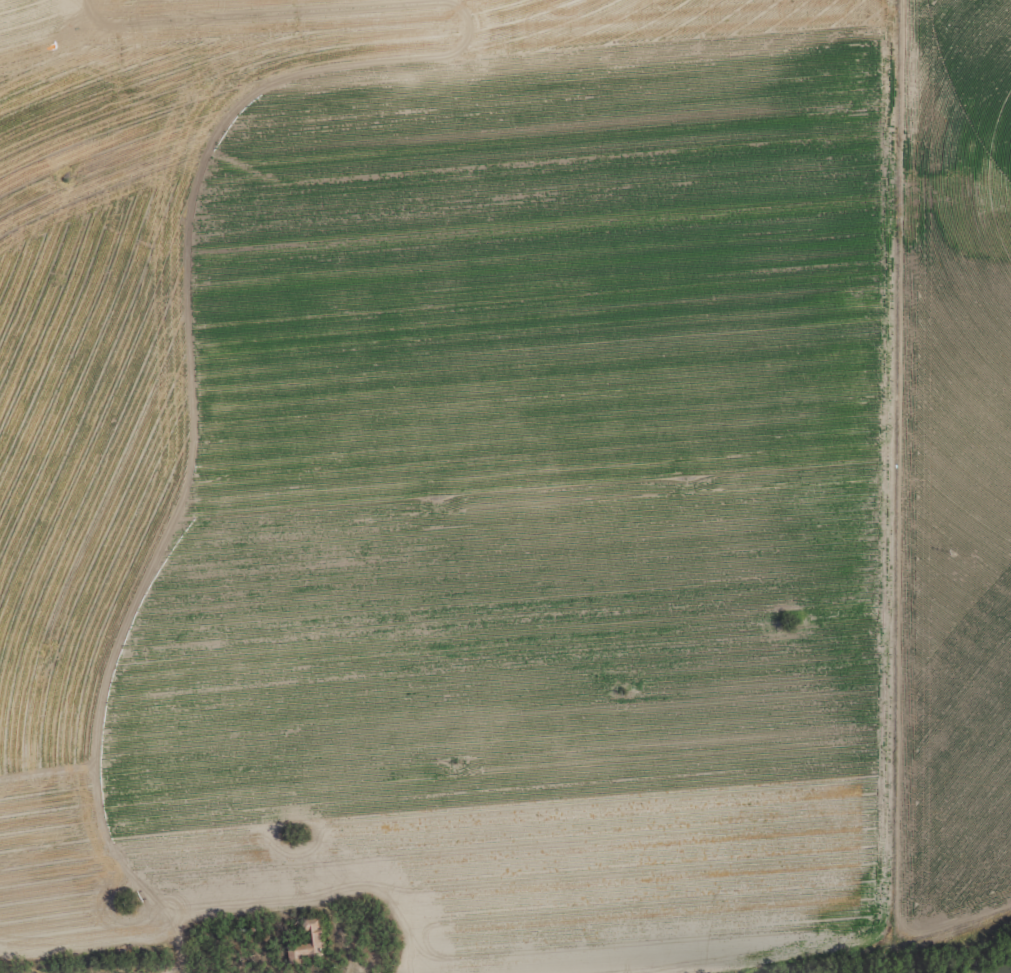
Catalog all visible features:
road: (190, 227)
road: (170, 961)

